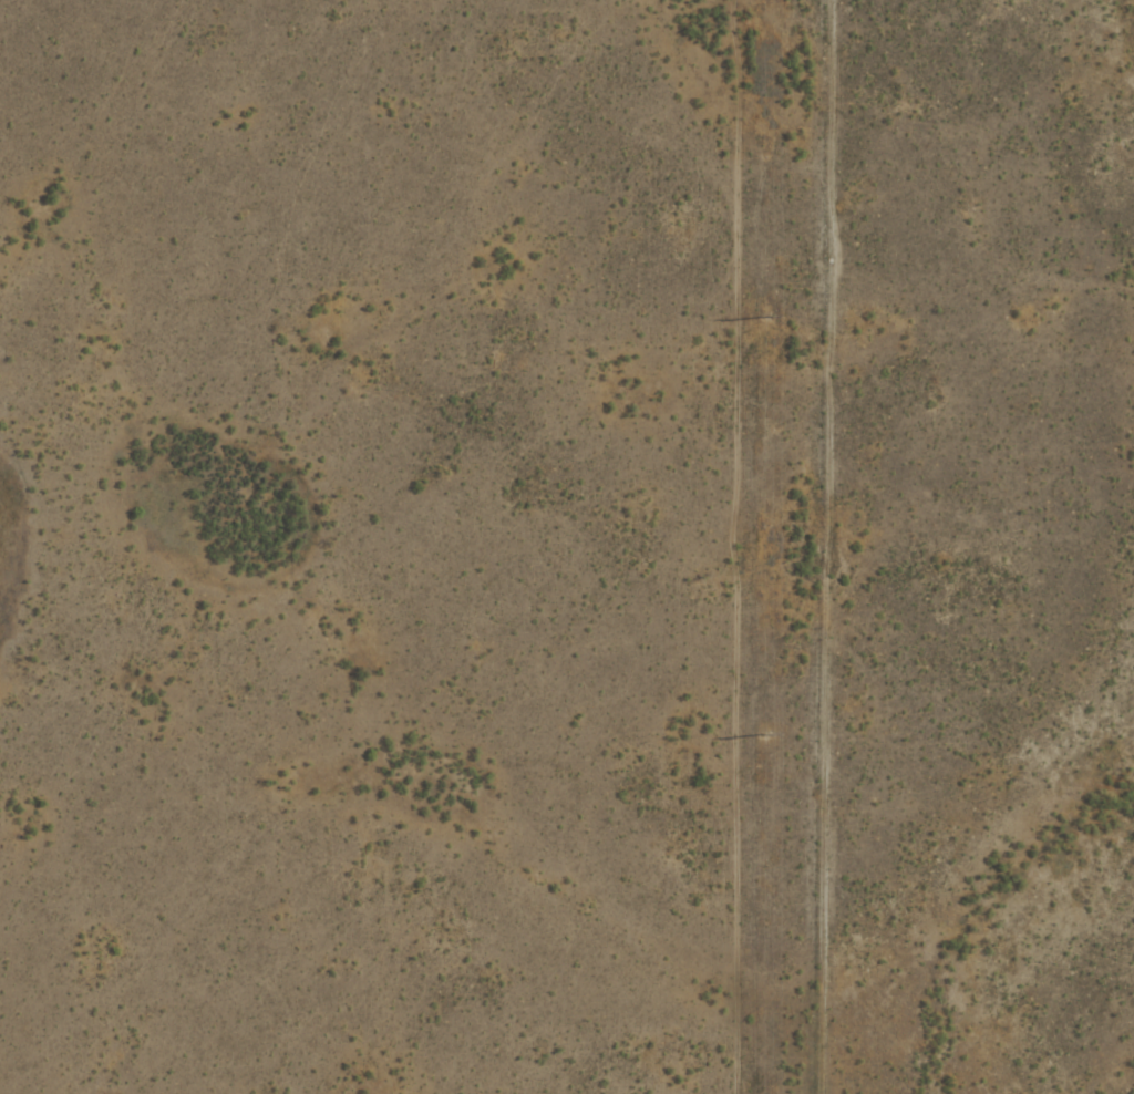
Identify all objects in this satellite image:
power tower: (763, 316)
power tower: (764, 733)

